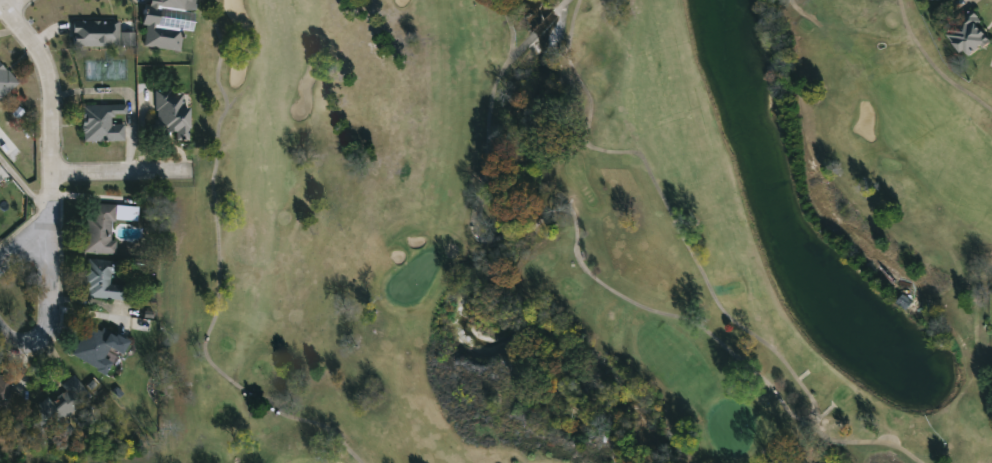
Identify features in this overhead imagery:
building: (928, 1)
road: (12, 6)
building: (164, 23)
building: (94, 31)
building: (968, 33)
building: (5, 79)
road: (48, 83)
building: (171, 111)
building: (101, 121)
road: (26, 170)
road: (118, 174)
building: (103, 224)
road: (41, 229)
park: (576, 237)
park: (588, 237)
building: (100, 279)
road: (56, 317)
building: (96, 345)
building: (4, 391)
building: (56, 406)

